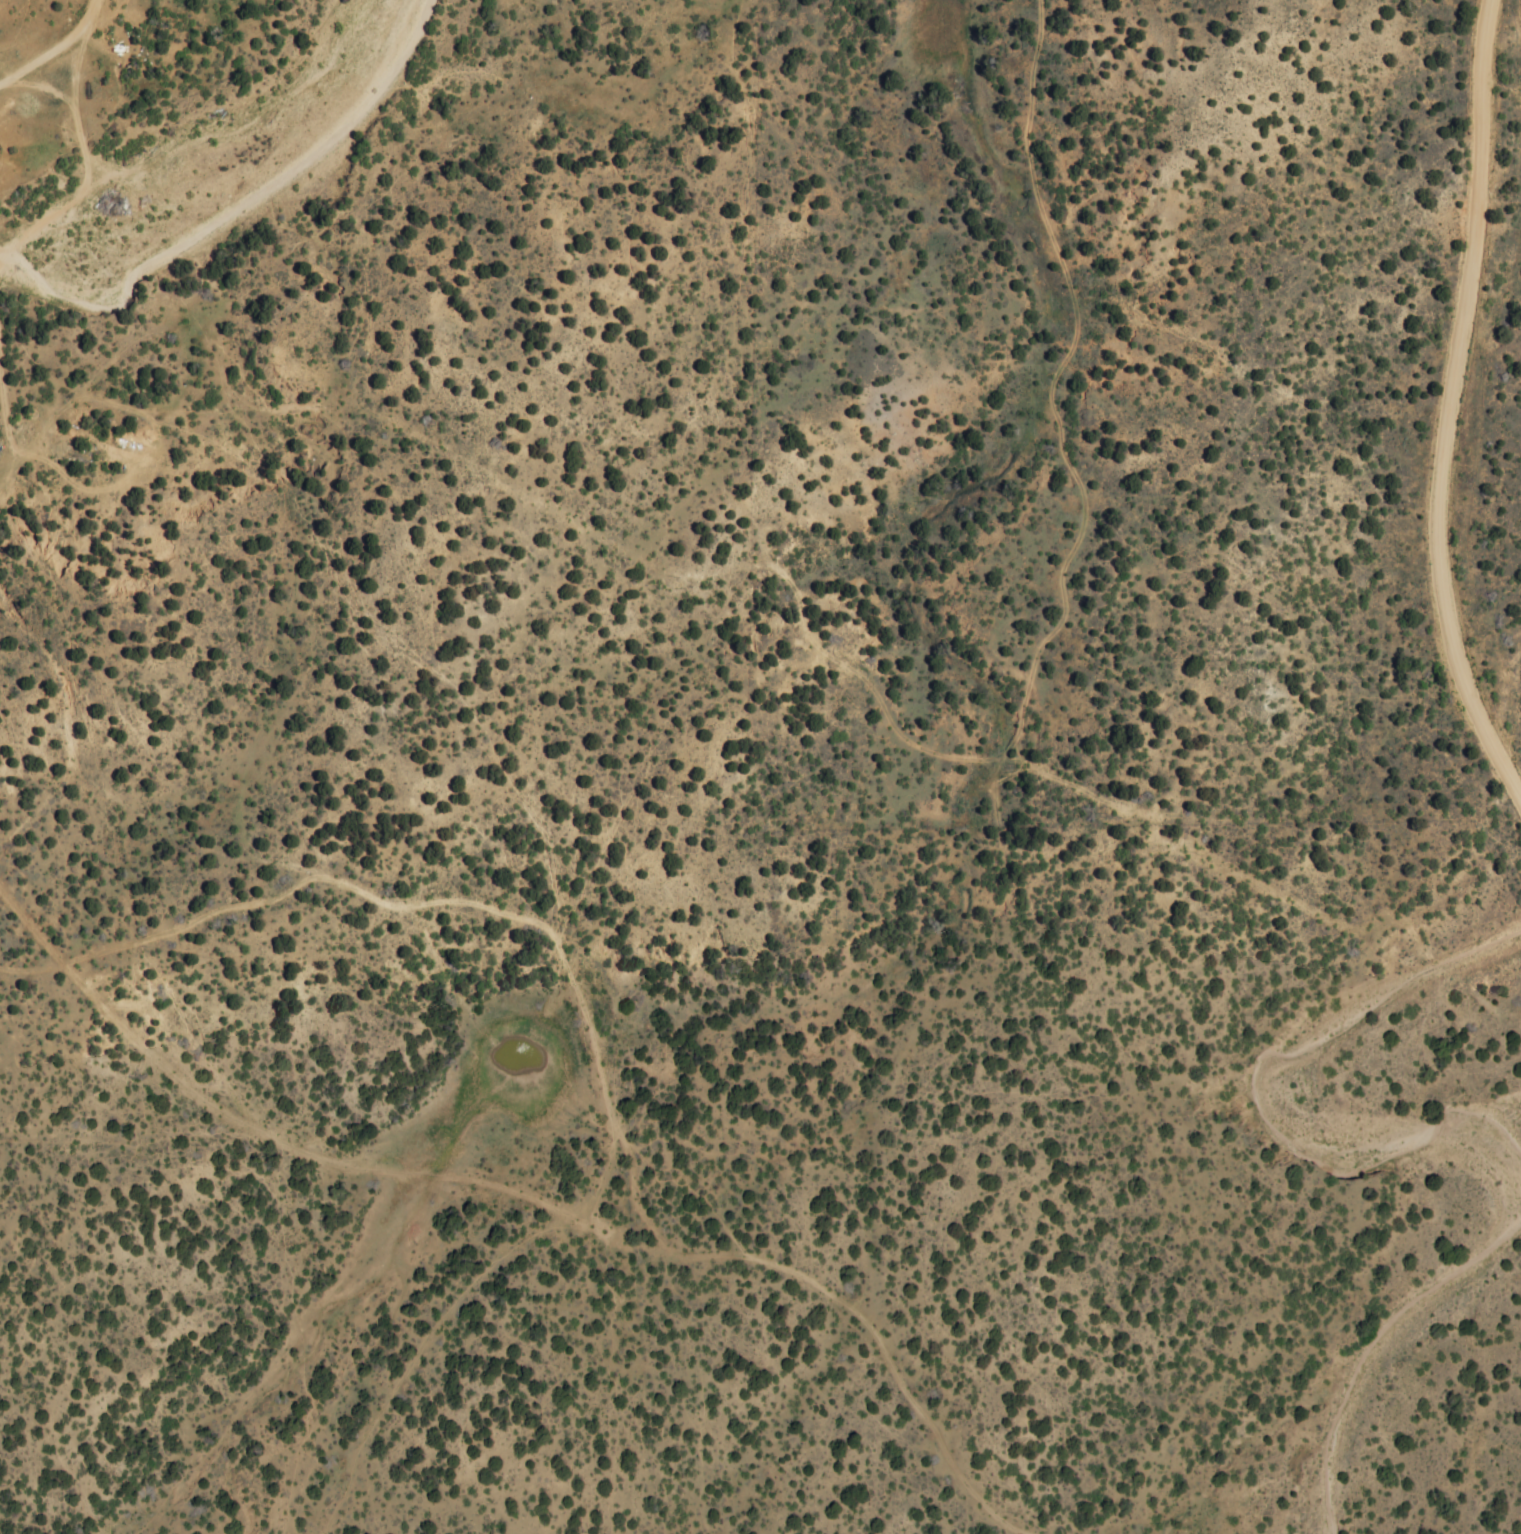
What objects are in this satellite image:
road: (83, 22)
road: (34, 61)
road: (85, 184)
road: (1449, 410)
road: (6, 475)
road: (426, 901)
road: (840, 1301)
road: (416, 1354)

